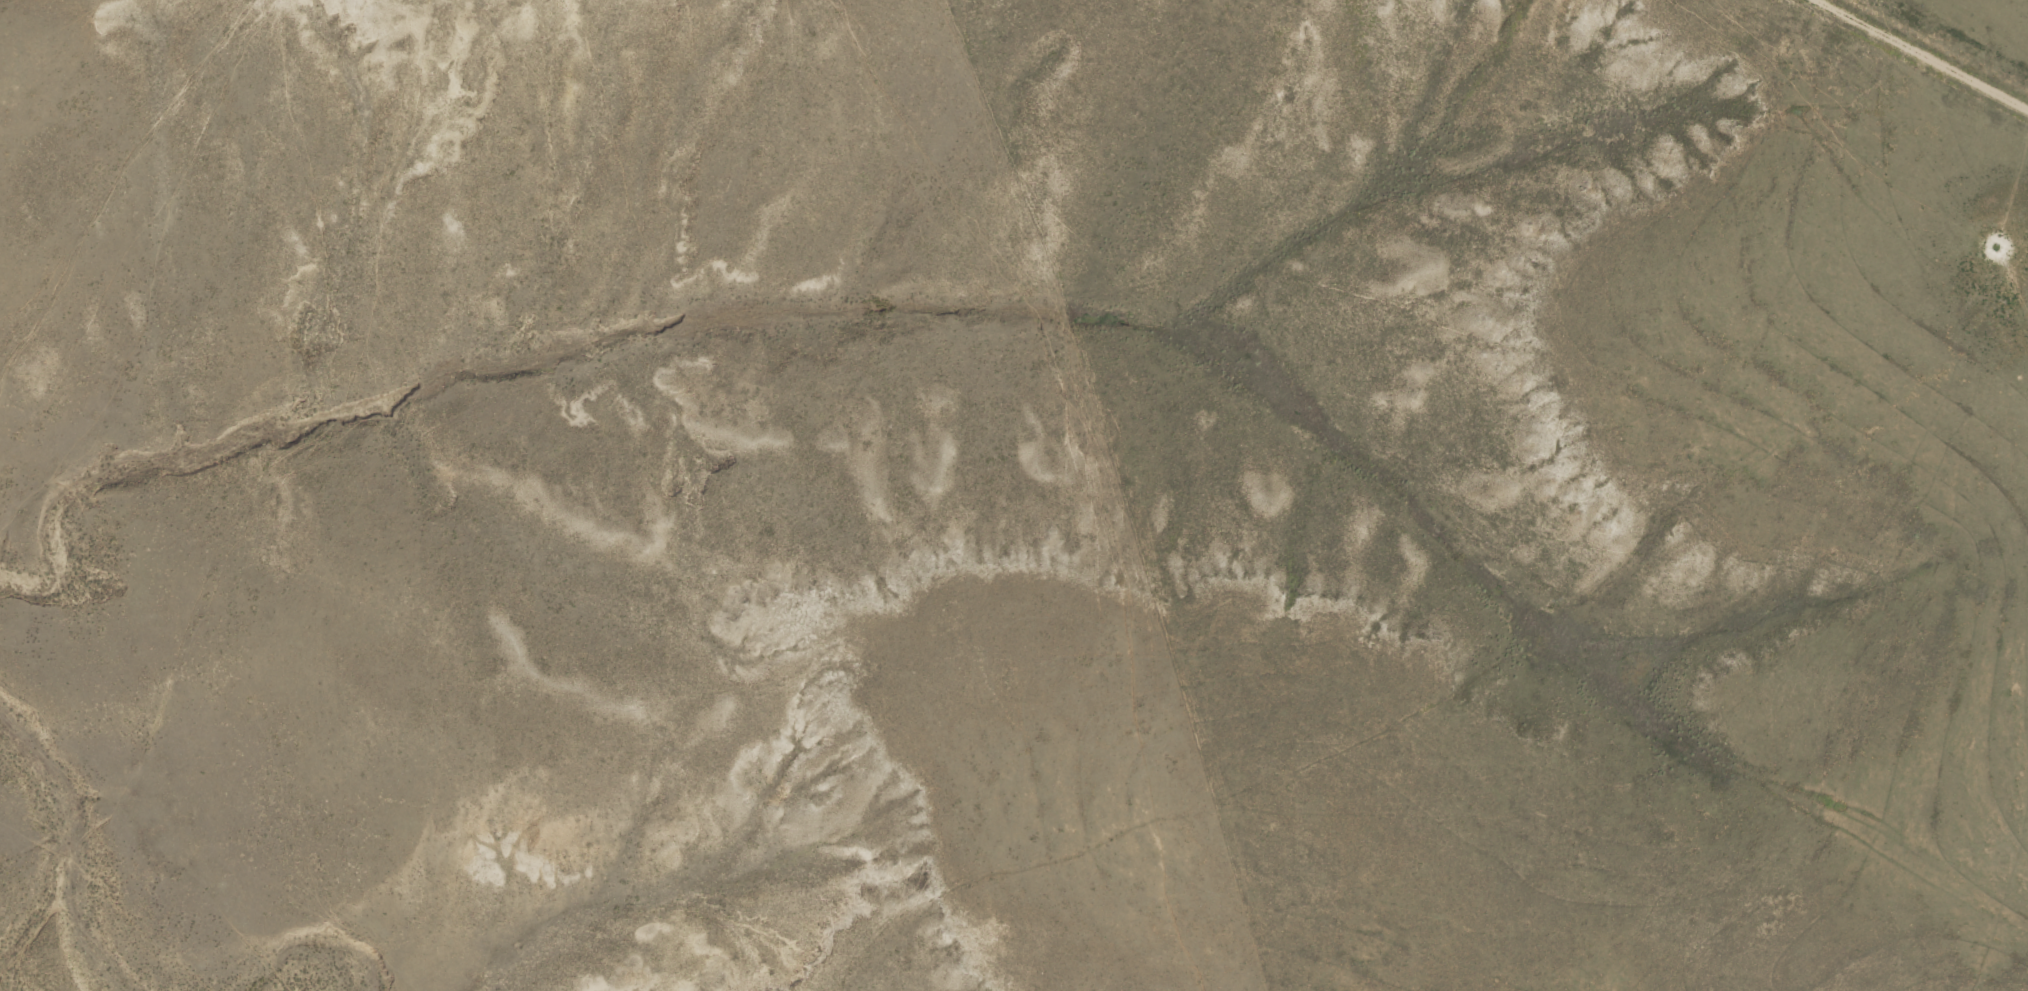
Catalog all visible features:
road: (1921, 53)

